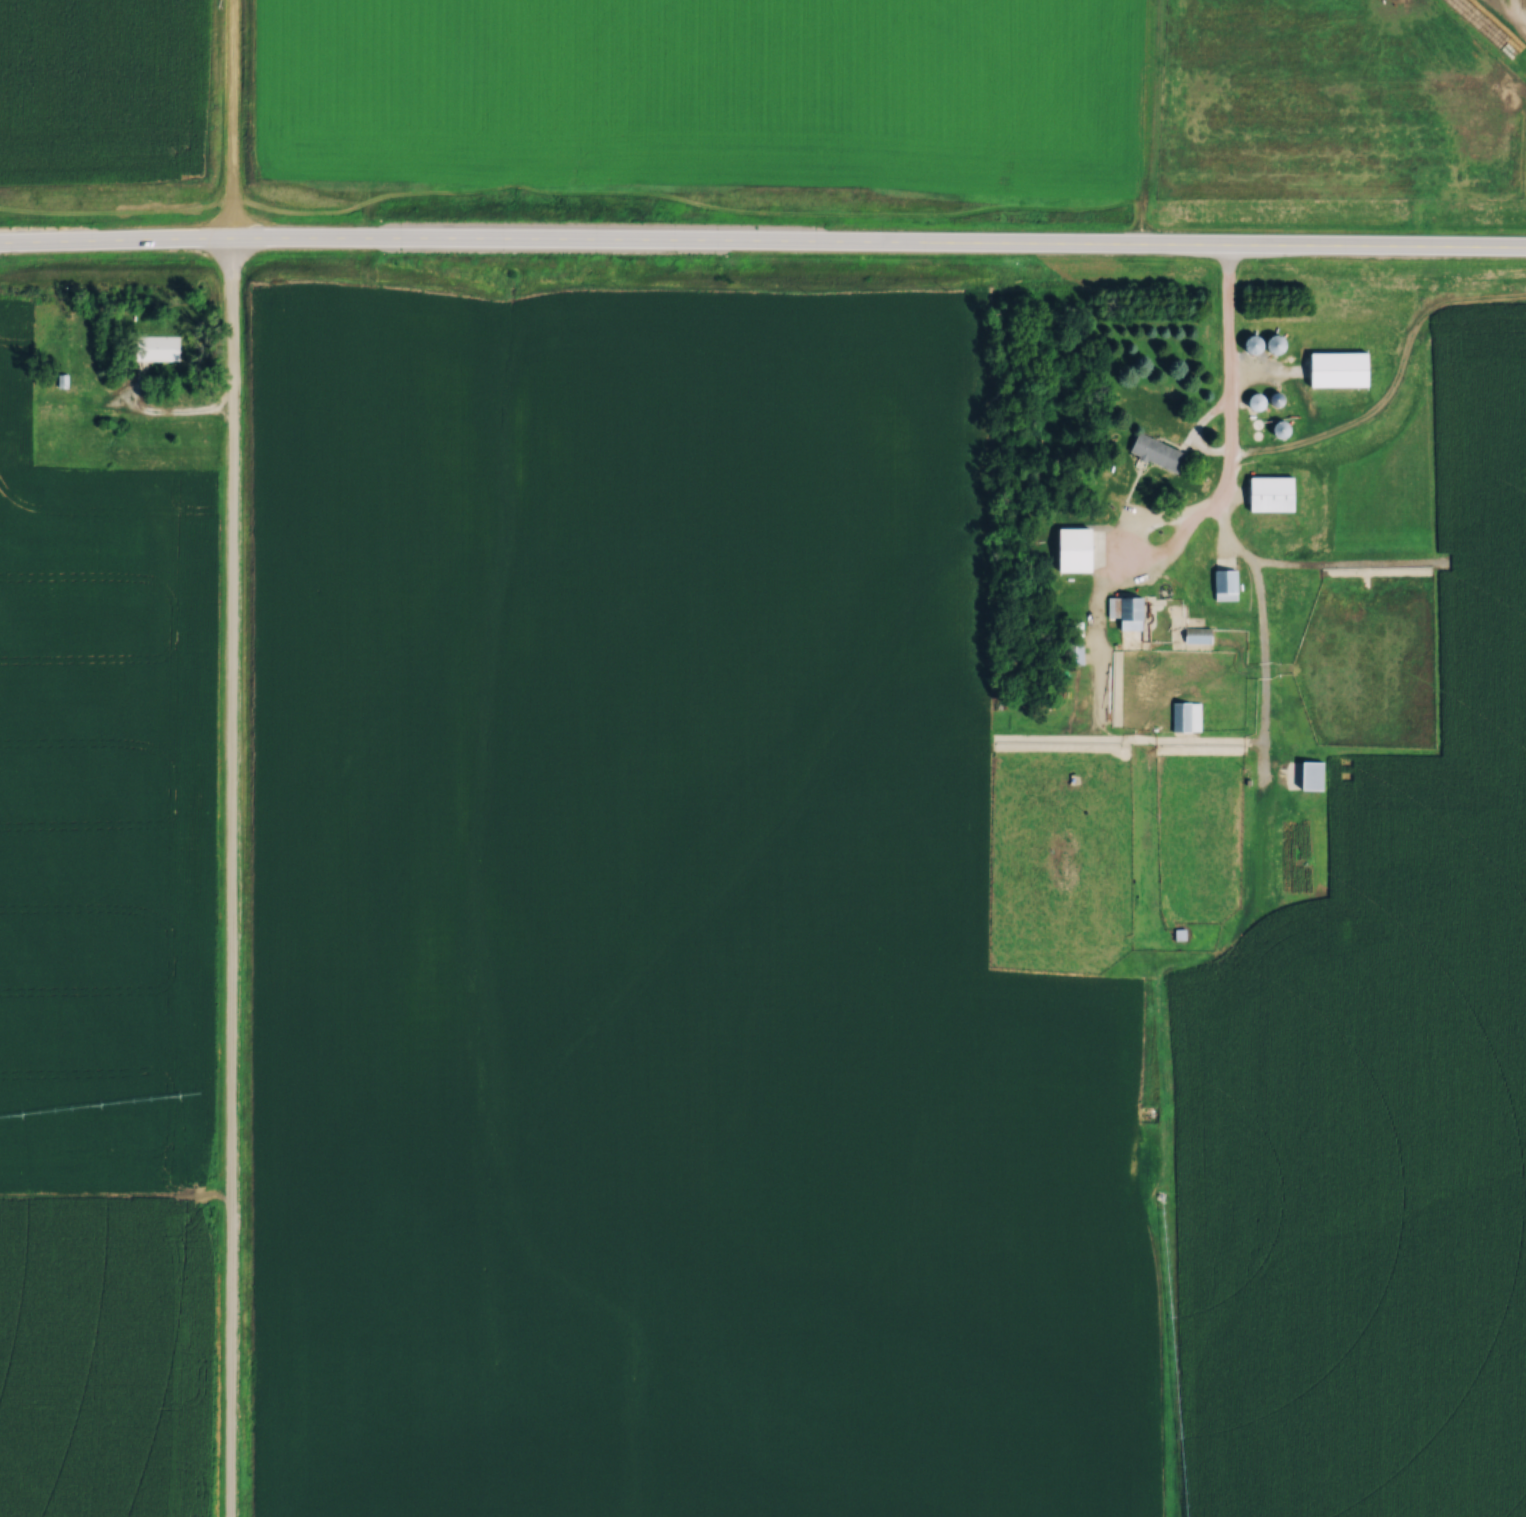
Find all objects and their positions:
road: (762, 236)
building: (159, 343)
road: (1225, 350)
building: (1344, 364)
road: (146, 410)
building: (1160, 448)
building: (1276, 489)
building: (1078, 546)
building: (1229, 581)
building: (1129, 608)
building: (1202, 631)
building: (1189, 711)
road: (228, 758)
building: (1316, 770)
building: (1183, 930)

